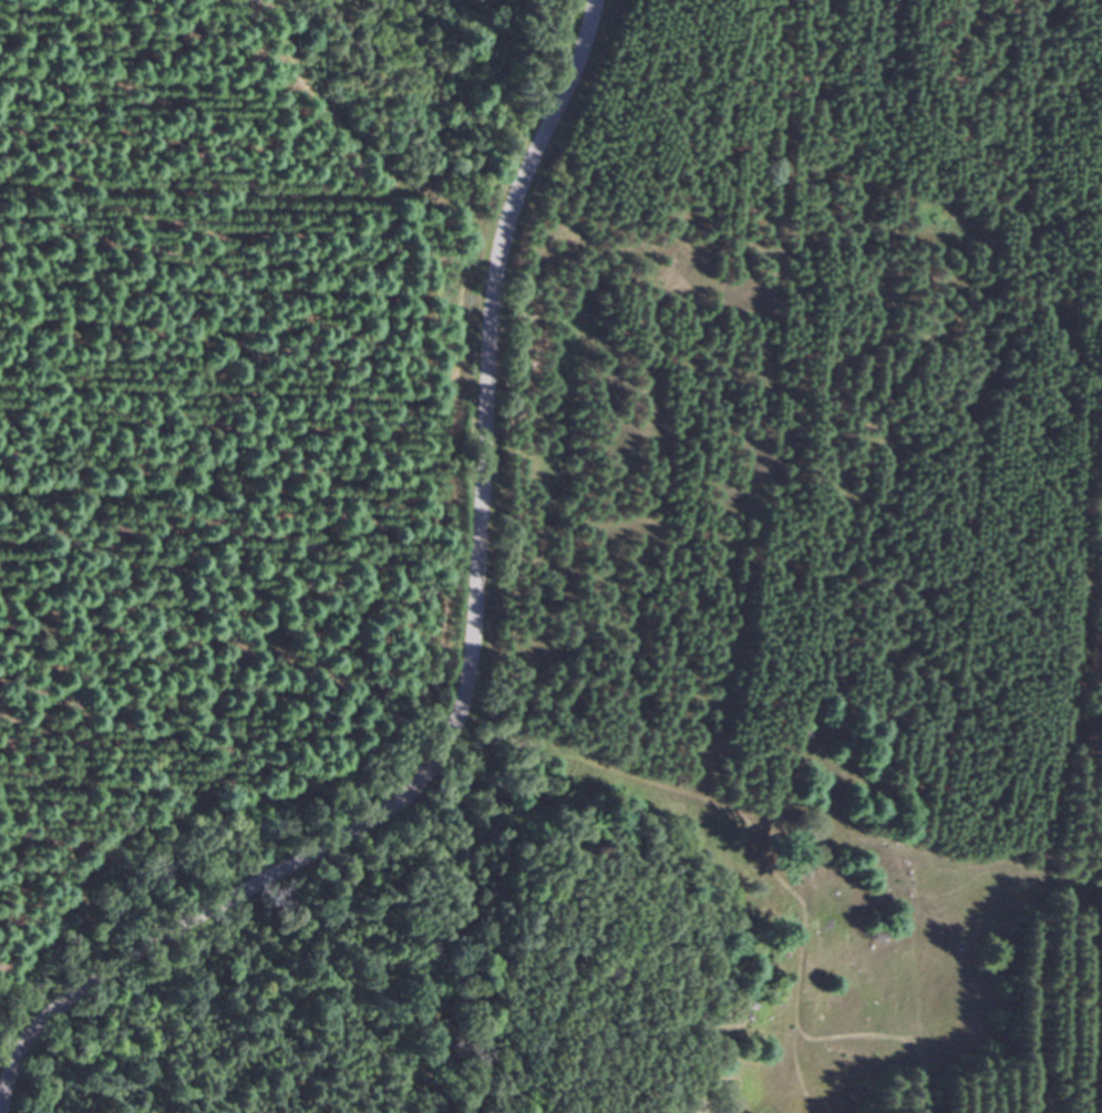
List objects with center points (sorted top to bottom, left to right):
road: (467, 659)
road: (714, 802)

